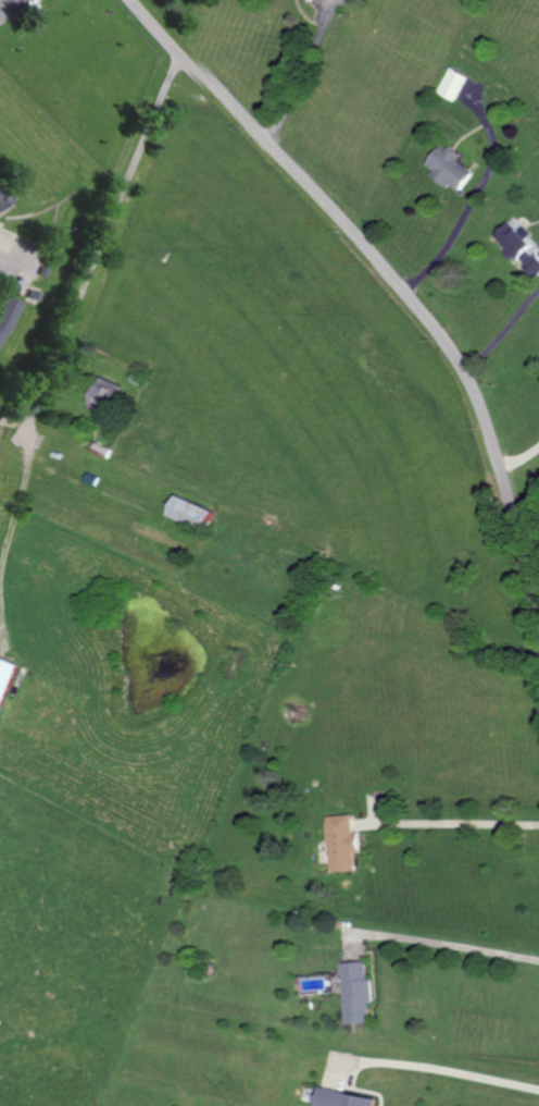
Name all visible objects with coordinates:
building: (302, 0)
road: (4, 2)
park: (167, 14)
road: (297, 69)
building: (451, 84)
building: (447, 167)
road: (473, 199)
building: (1, 200)
building: (517, 245)
road: (8, 256)
road: (379, 262)
road: (74, 303)
building: (5, 311)
road: (505, 333)
building: (104, 393)
building: (102, 448)
road: (521, 457)
building: (190, 512)
road: (3, 624)
building: (5, 678)
road: (456, 813)
building: (342, 844)
road: (446, 935)
building: (358, 993)
road: (449, 1061)
building: (342, 1098)

